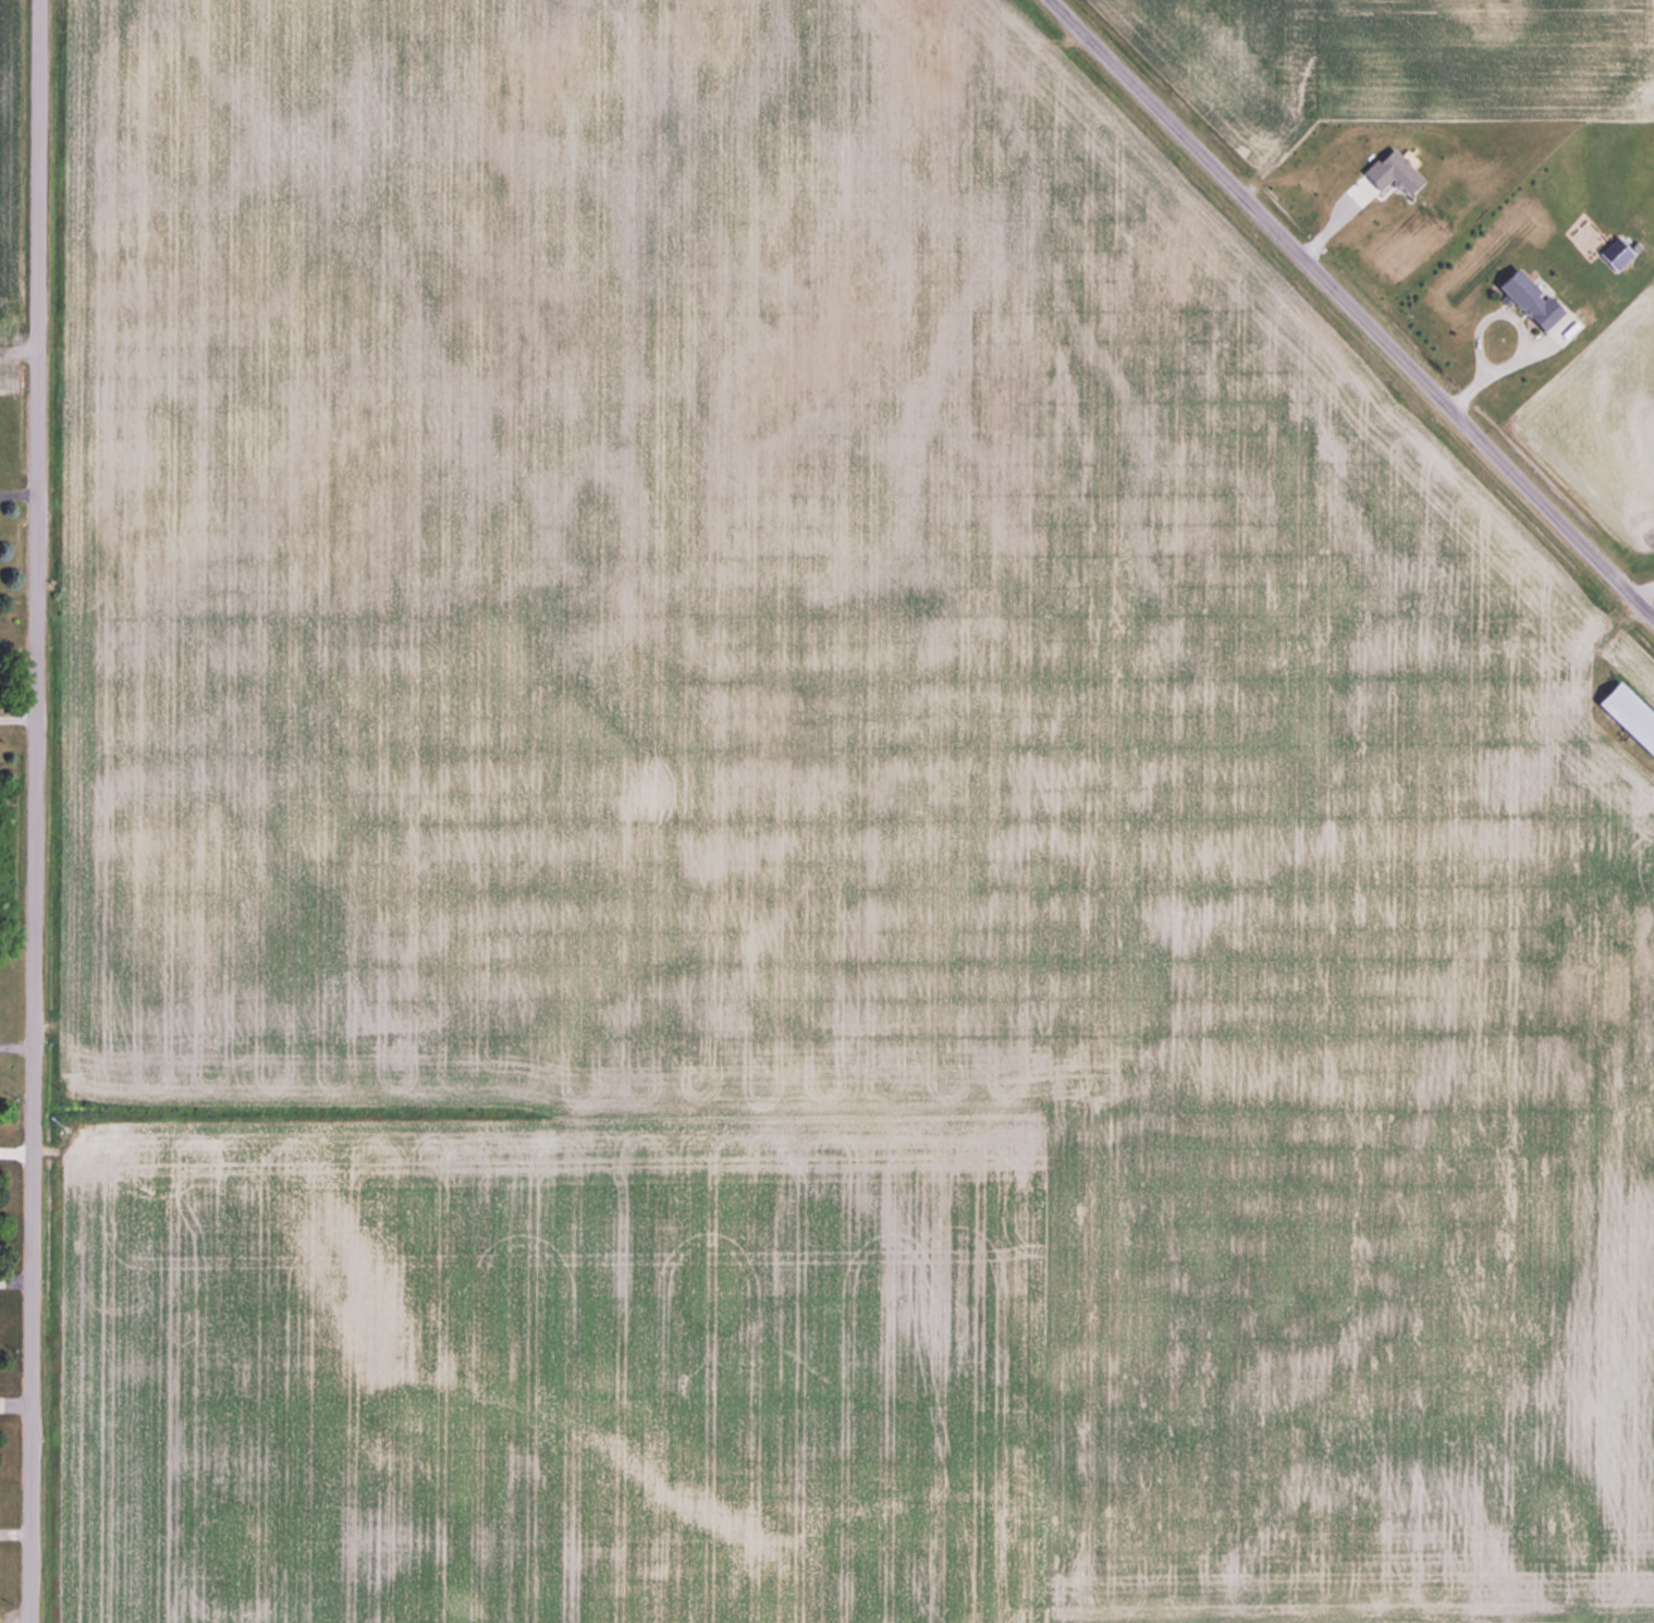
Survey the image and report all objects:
building: (1526, 297)
road: (1356, 306)
road: (1517, 329)
road: (19, 490)
road: (1642, 585)
building: (1627, 716)
road: (35, 810)

